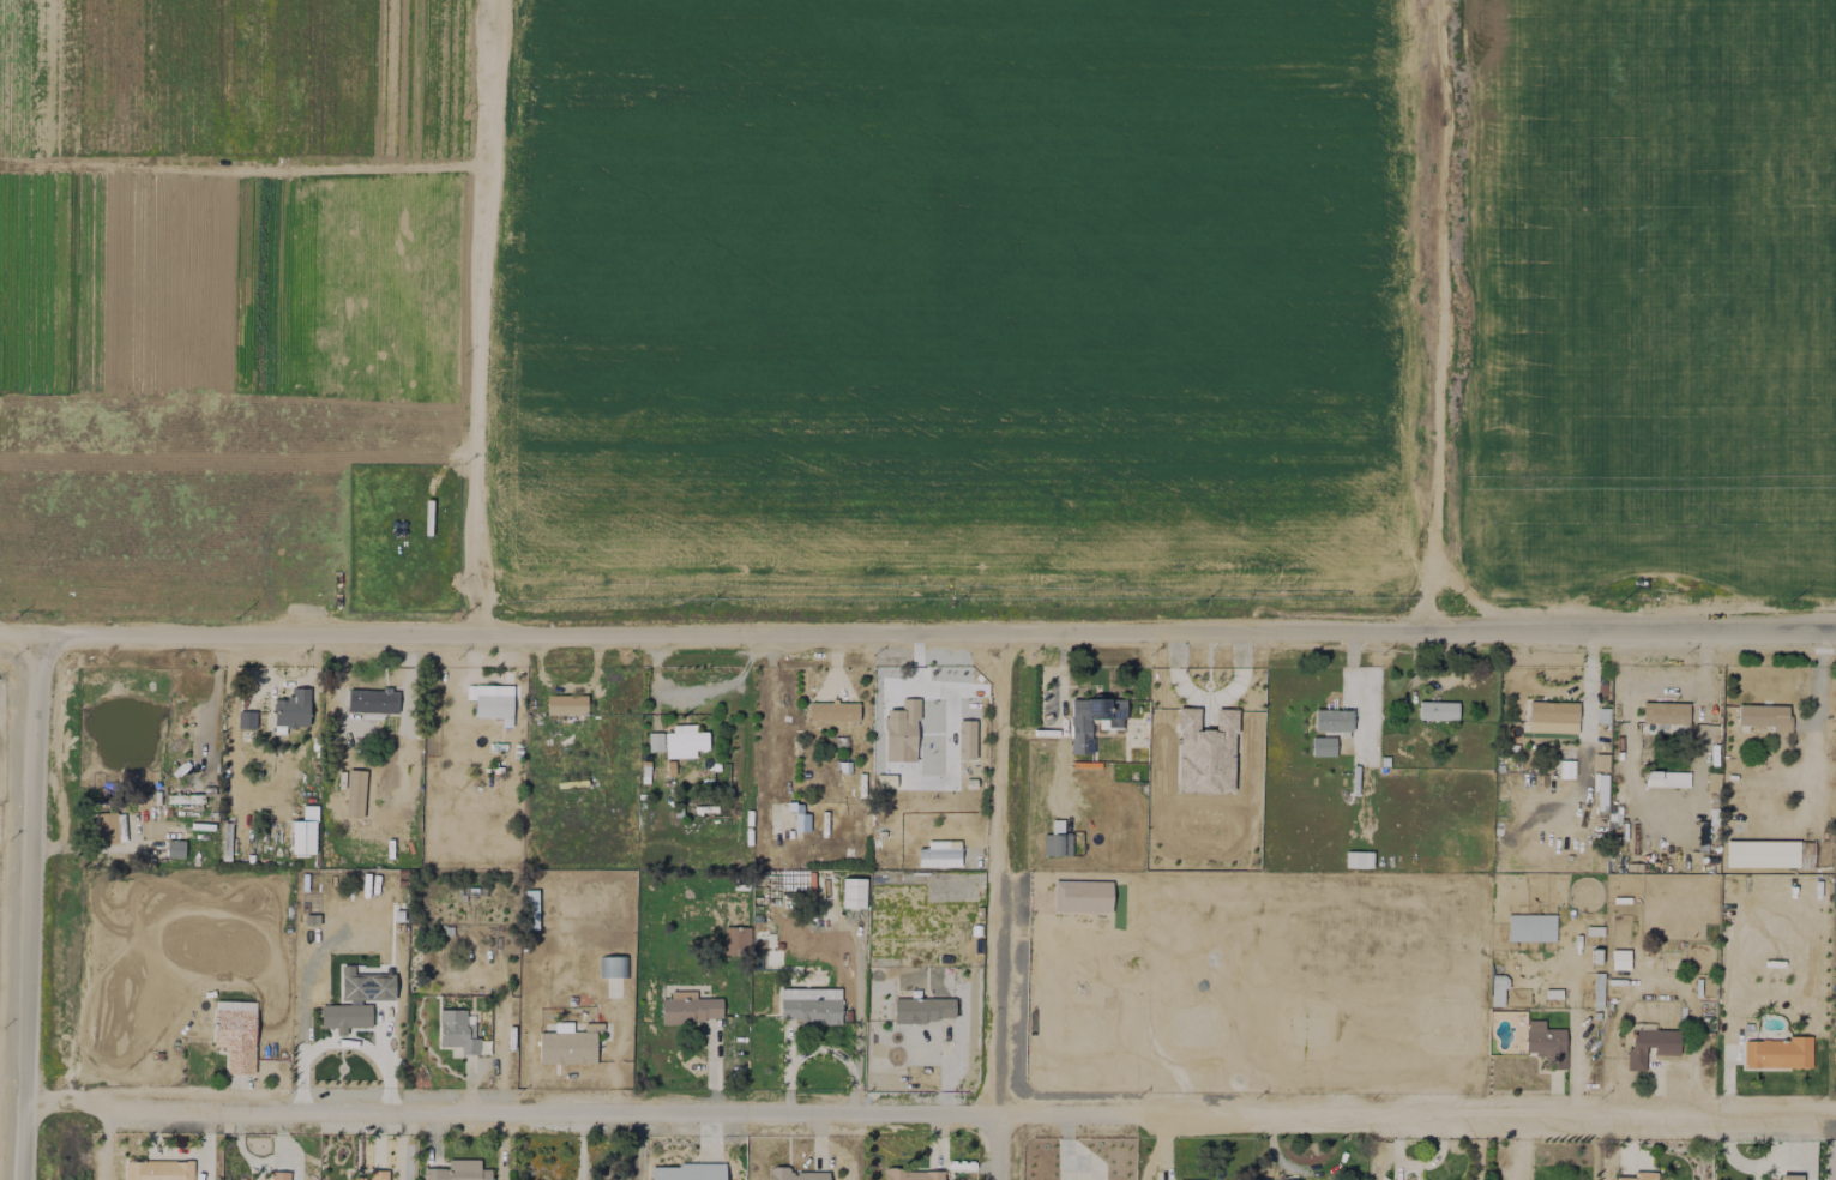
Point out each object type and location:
road: (490, 314)
road: (1432, 314)
road: (917, 625)
road: (694, 694)
building: (492, 700)
building: (372, 702)
building: (565, 704)
building: (291, 709)
building: (1437, 710)
building: (832, 711)
building: (1665, 712)
building: (1554, 714)
building: (1764, 716)
building: (246, 720)
building: (1331, 721)
building: (1110, 723)
building: (684, 740)
building: (655, 741)
building: (1322, 746)
building: (907, 749)
building: (1600, 761)
building: (1666, 778)
building: (1711, 782)
building: (183, 797)
building: (800, 819)
building: (106, 827)
building: (175, 848)
building: (939, 854)
building: (1768, 854)
building: (1358, 859)
road: (998, 869)
building: (853, 892)
building: (531, 903)
road: (32, 908)
building: (1530, 927)
building: (1619, 959)
building: (613, 969)
building: (365, 985)
building: (1498, 989)
building: (811, 1005)
building: (688, 1007)
building: (922, 1009)
building: (344, 1016)
building: (457, 1031)
building: (1545, 1042)
building: (566, 1044)
building: (1650, 1044)
building: (1777, 1053)
road: (931, 1113)
road: (993, 1146)
building: (158, 1169)
building: (457, 1170)
building: (686, 1172)
building: (795, 1174)
building: (913, 1174)
building: (278, 1175)
building: (372, 1175)
building: (1639, 1175)
building: (1789, 1176)

